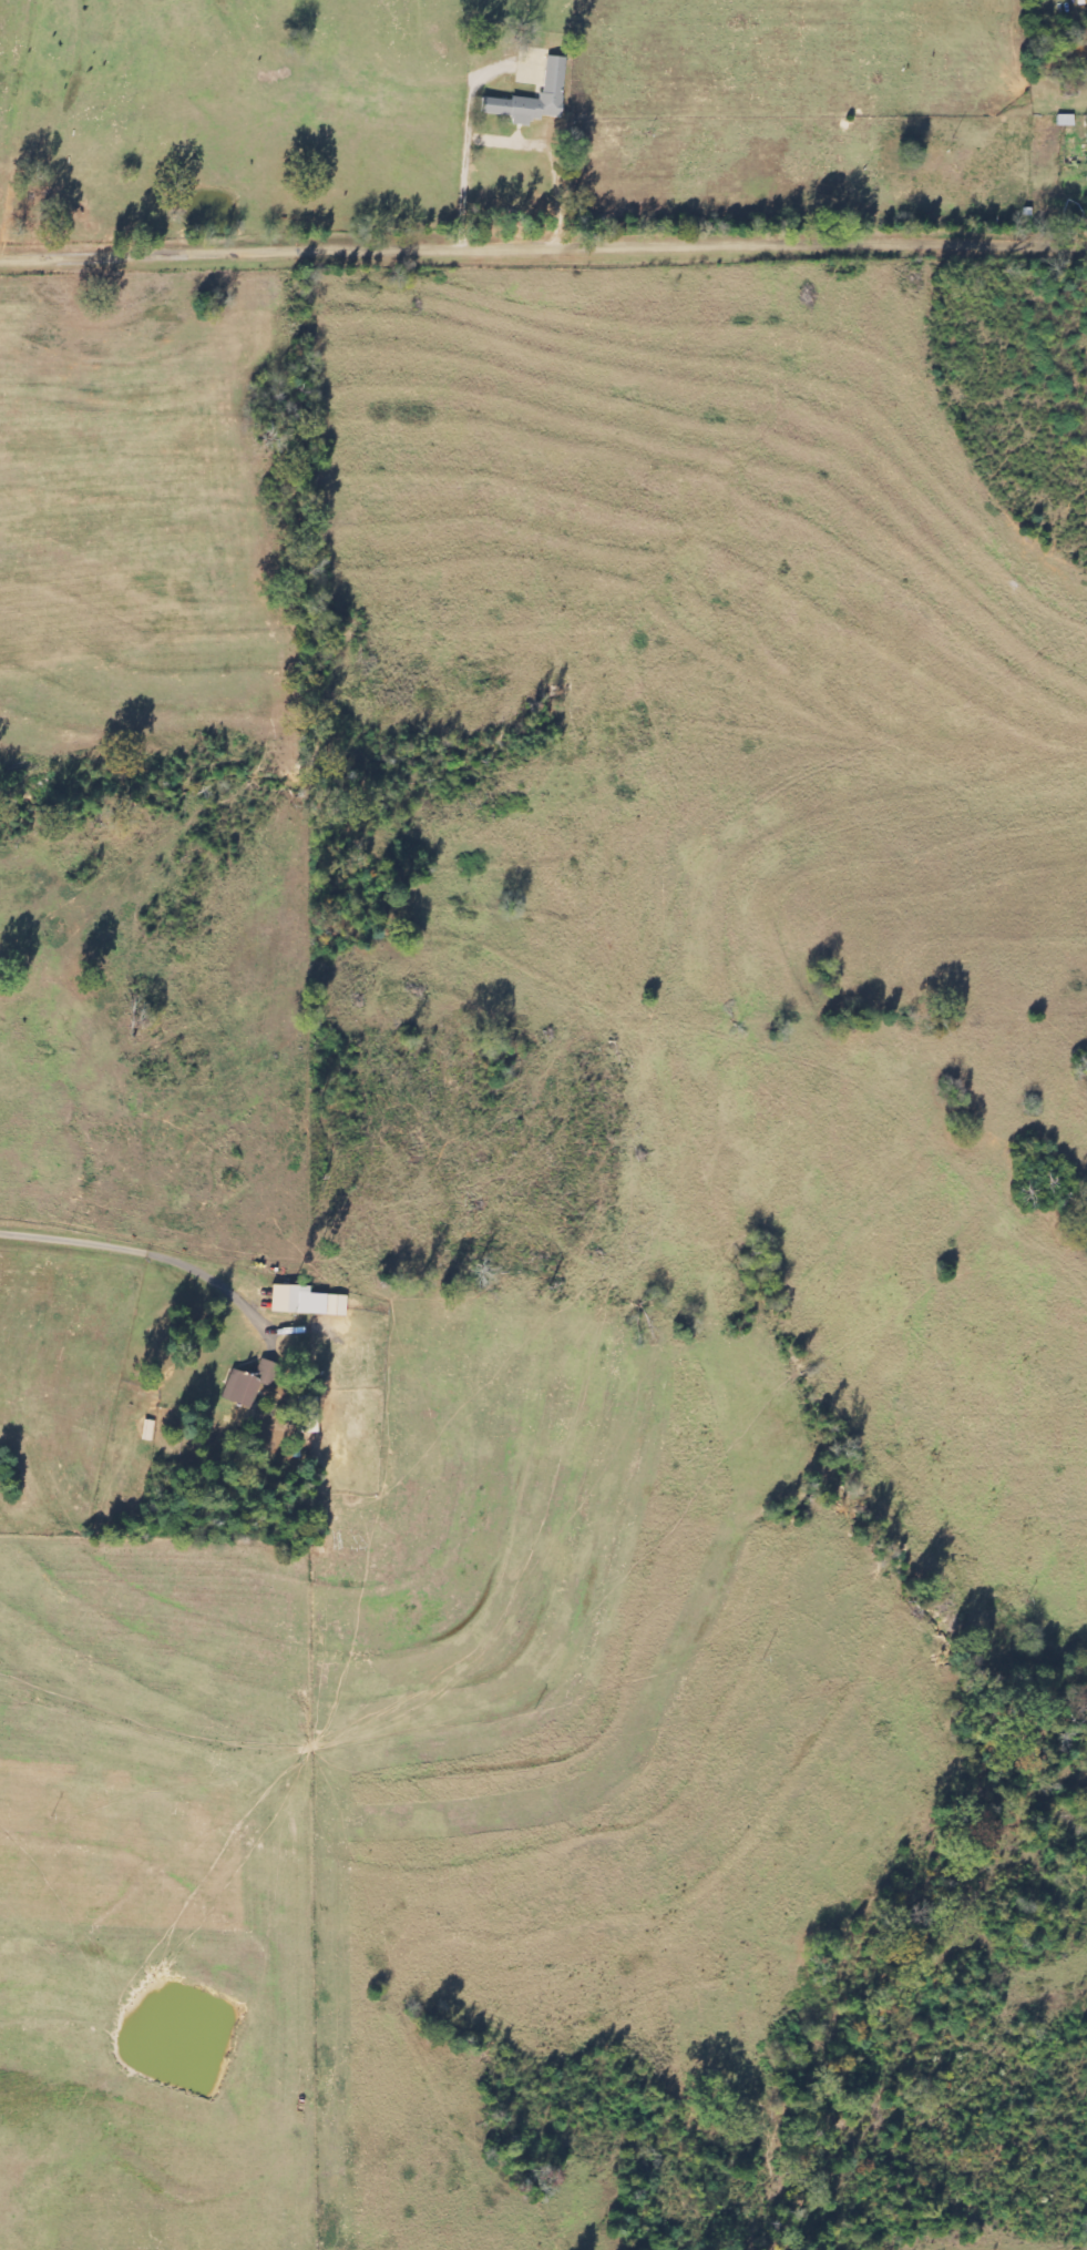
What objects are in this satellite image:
building: (554, 75)
building: (1065, 120)
road: (543, 243)
building: (306, 1302)
building: (246, 1384)

